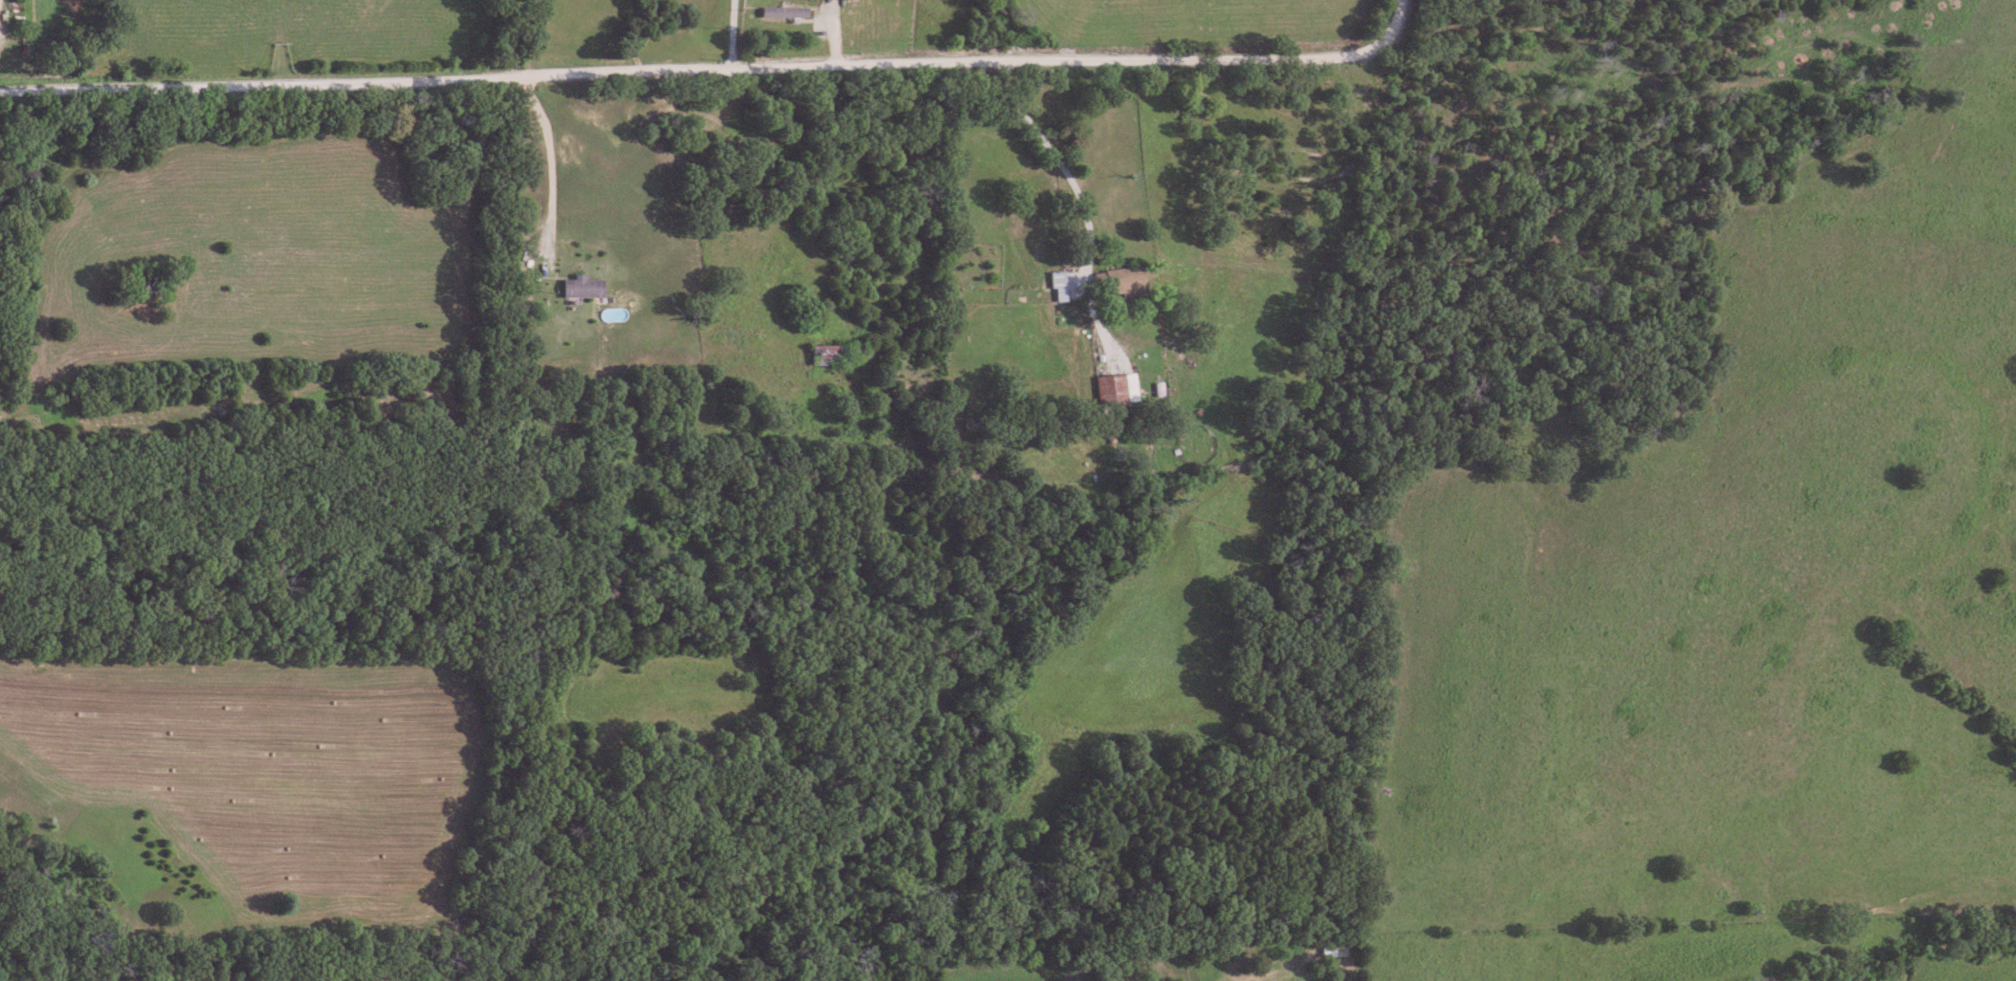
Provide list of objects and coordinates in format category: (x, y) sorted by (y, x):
building: (784, 11)
road: (734, 35)
road: (717, 70)
road: (1068, 157)
road: (553, 164)
building: (1120, 279)
building: (522, 281)
building: (1057, 285)
building: (577, 286)
building: (1113, 388)
building: (324, 980)

